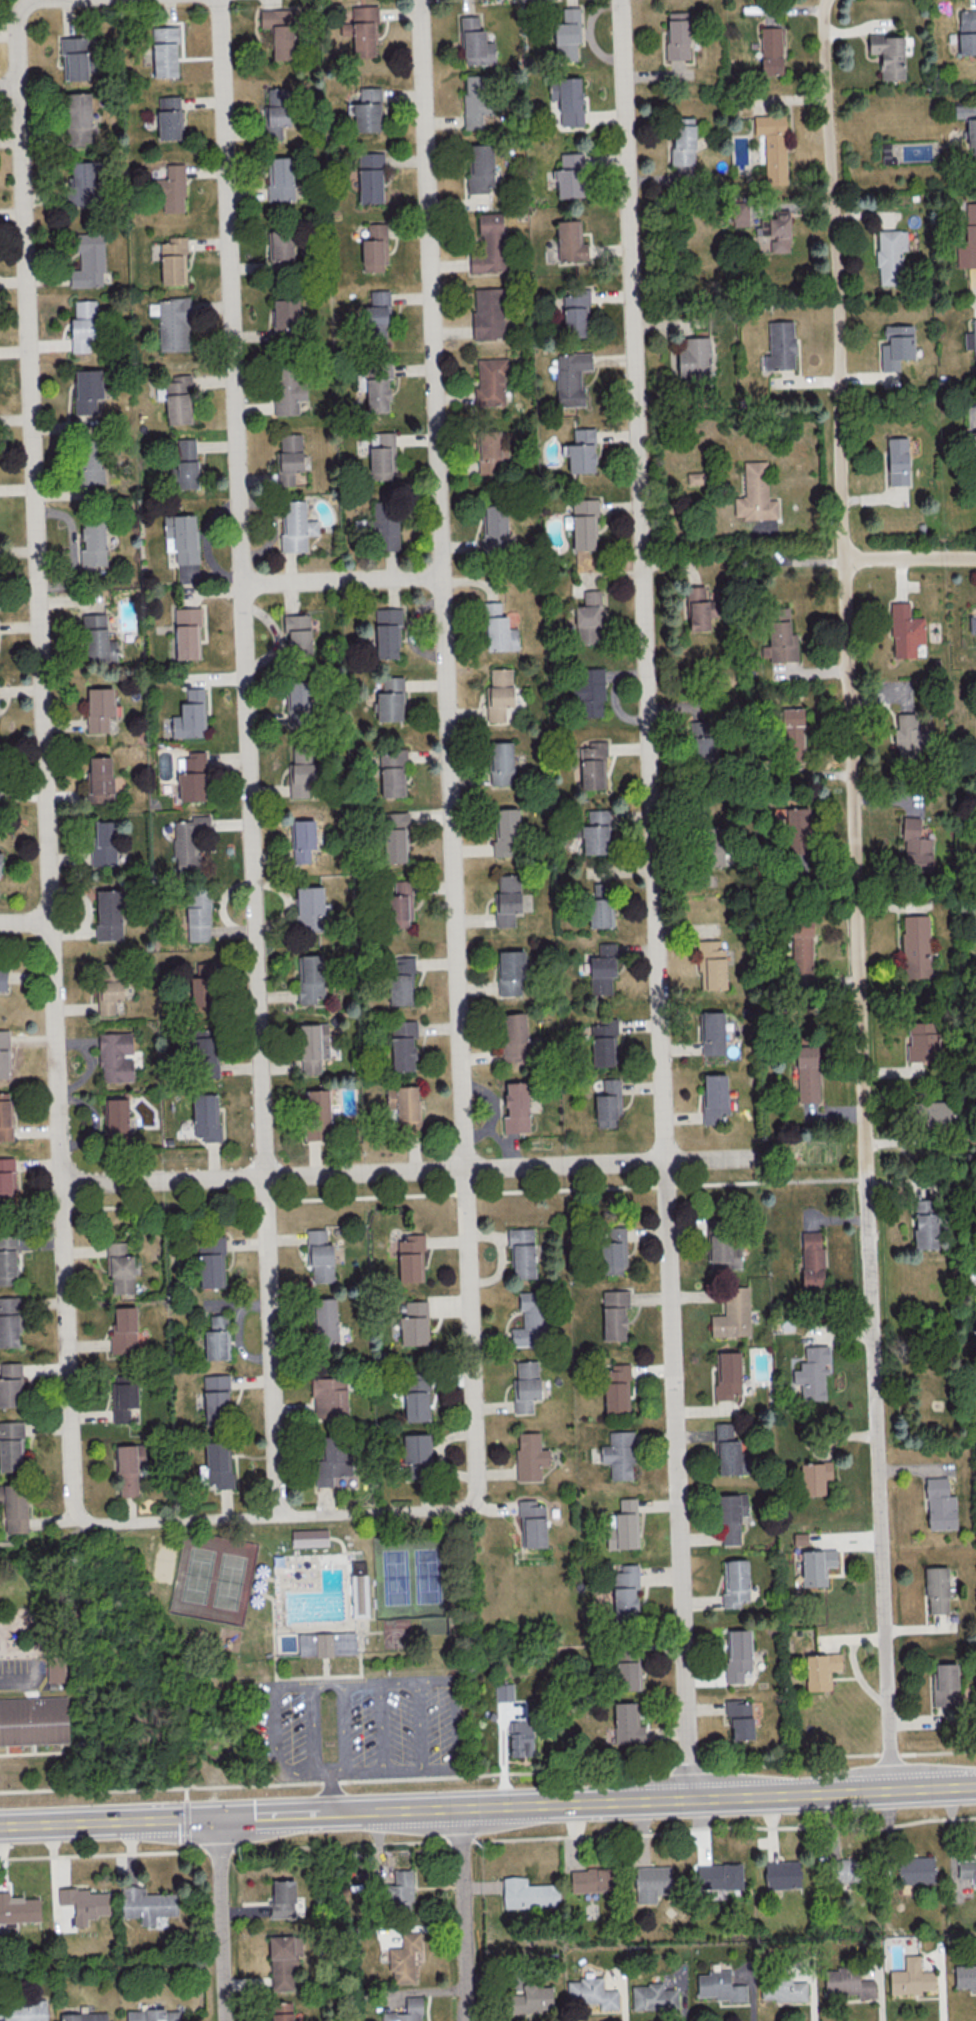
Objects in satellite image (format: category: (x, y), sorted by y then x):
road: (32, 2)
building: (279, 30)
building: (361, 30)
building: (967, 31)
building: (567, 34)
building: (677, 35)
building: (475, 43)
building: (770, 50)
building: (164, 51)
building: (888, 54)
building: (74, 58)
road: (10, 88)
building: (567, 99)
building: (475, 100)
building: (367, 110)
building: (277, 111)
building: (169, 117)
building: (77, 118)
building: (968, 124)
building: (683, 141)
building: (773, 146)
building: (886, 153)
building: (480, 169)
building: (570, 175)
building: (370, 177)
building: (280, 179)
building: (81, 182)
building: (171, 188)
building: (740, 213)
building: (777, 231)
building: (968, 239)
building: (570, 241)
building: (281, 244)
building: (489, 244)
building: (374, 248)
building: (890, 255)
building: (173, 260)
building: (88, 261)
building: (488, 312)
building: (575, 313)
building: (285, 316)
building: (377, 318)
building: (171, 323)
building: (83, 327)
building: (971, 340)
building: (780, 345)
building: (896, 346)
building: (693, 357)
building: (571, 378)
building: (490, 382)
building: (378, 387)
building: (87, 389)
building: (287, 393)
building: (178, 399)
building: (492, 449)
building: (581, 451)
building: (974, 452)
building: (381, 455)
building: (289, 457)
building: (897, 461)
building: (186, 463)
building: (91, 464)
building: (755, 494)
building: (584, 524)
building: (495, 526)
building: (296, 527)
building: (182, 536)
building: (93, 544)
road: (911, 559)
road: (793, 561)
road: (342, 579)
building: (697, 607)
building: (588, 618)
building: (972, 623)
building: (498, 629)
building: (905, 630)
building: (387, 631)
building: (187, 632)
building: (297, 635)
building: (780, 636)
building: (98, 640)
building: (589, 691)
building: (499, 692)
building: (390, 699)
building: (297, 702)
building: (100, 708)
building: (190, 715)
building: (792, 734)
building: (909, 735)
road: (448, 751)
road: (249, 758)
road: (45, 761)
building: (501, 763)
building: (592, 765)
building: (301, 772)
building: (392, 772)
building: (191, 776)
building: (100, 779)
building: (798, 822)
building: (595, 832)
building: (505, 833)
building: (394, 837)
building: (303, 839)
building: (188, 840)
building: (103, 843)
building: (915, 846)
building: (0, 857)
building: (600, 886)
road: (855, 894)
building: (507, 898)
road: (656, 898)
building: (400, 905)
building: (310, 908)
building: (600, 912)
building: (108, 914)
building: (198, 914)
road: (25, 922)
building: (801, 946)
building: (915, 946)
building: (711, 965)
building: (602, 969)
building: (109, 971)
building: (511, 972)
building: (2, 979)
building: (310, 979)
building: (401, 980)
building: (201, 987)
building: (109, 995)
building: (713, 1033)
building: (514, 1037)
building: (922, 1041)
building: (602, 1042)
building: (403, 1044)
building: (313, 1046)
building: (4, 1053)
building: (115, 1056)
building: (205, 1057)
building: (807, 1073)
building: (714, 1097)
building: (608, 1103)
building: (404, 1104)
building: (516, 1107)
building: (932, 1112)
building: (317, 1114)
building: (206, 1116)
building: (5, 1117)
building: (116, 1118)
road: (413, 1170)
building: (7, 1178)
road: (486, 1194)
building: (923, 1205)
building: (925, 1231)
building: (315, 1236)
building: (724, 1249)
building: (613, 1250)
building: (522, 1252)
building: (7, 1259)
building: (410, 1259)
building: (811, 1259)
building: (211, 1262)
building: (321, 1262)
building: (120, 1269)
building: (975, 1295)
building: (614, 1314)
building: (732, 1314)
building: (325, 1320)
building: (530, 1320)
building: (9, 1322)
building: (414, 1324)
building: (123, 1331)
building: (216, 1339)
building: (728, 1376)
building: (10, 1385)
building: (526, 1386)
building: (616, 1388)
building: (329, 1397)
building: (123, 1398)
building: (416, 1398)
building: (216, 1400)
building: (10, 1446)
building: (416, 1449)
building: (729, 1451)
building: (618, 1455)
building: (530, 1456)
building: (331, 1462)
building: (218, 1463)
building: (127, 1470)
building: (814, 1477)
building: (939, 1505)
building: (14, 1507)
road: (276, 1517)
building: (729, 1520)
building: (532, 1523)
building: (623, 1526)
building: (309, 1538)
building: (799, 1539)
road: (47, 1542)
park: (165, 1562)
building: (816, 1566)
park: (431, 1574)
park: (195, 1575)
park: (394, 1576)
park: (233, 1582)
building: (735, 1582)
building: (936, 1589)
building: (360, 1590)
building: (625, 1592)
park: (396, 1636)
building: (328, 1645)
building: (737, 1655)
building: (56, 1670)
building: (820, 1670)
building: (626, 1672)
road: (15, 1675)
road: (364, 1681)
building: (944, 1684)
building: (503, 1691)
building: (739, 1717)
building: (33, 1721)
road: (452, 1723)
building: (627, 1723)
road: (420, 1724)
road: (381, 1725)
road: (278, 1726)
road: (311, 1727)
road: (343, 1727)
building: (520, 1738)
road: (392, 1769)
road: (304, 1770)
road: (489, 1773)
road: (332, 1791)
road: (647, 1798)
road: (269, 1814)
traffic signals: (220, 1817)
road: (110, 1821)
road: (488, 1839)
building: (842, 1870)
building: (916, 1870)
building: (967, 1870)
building: (782, 1874)
building: (718, 1876)
building: (591, 1879)
building: (649, 1883)
building: (399, 1891)
building: (528, 1894)
building: (282, 1899)
building: (84, 1903)
building: (146, 1904)
building: (19, 1908)
road: (465, 1914)
road: (221, 1919)
building: (404, 1957)
building: (283, 1960)
building: (910, 1977)
building: (965, 1977)
building: (847, 1983)
building: (719, 1986)
building: (782, 1989)
building: (591, 1992)
building: (653, 1997)
building: (530, 1999)
building: (412, 2003)
building: (24, 2012)
building: (281, 2012)
building: (84, 2015)
building: (153, 2015)

